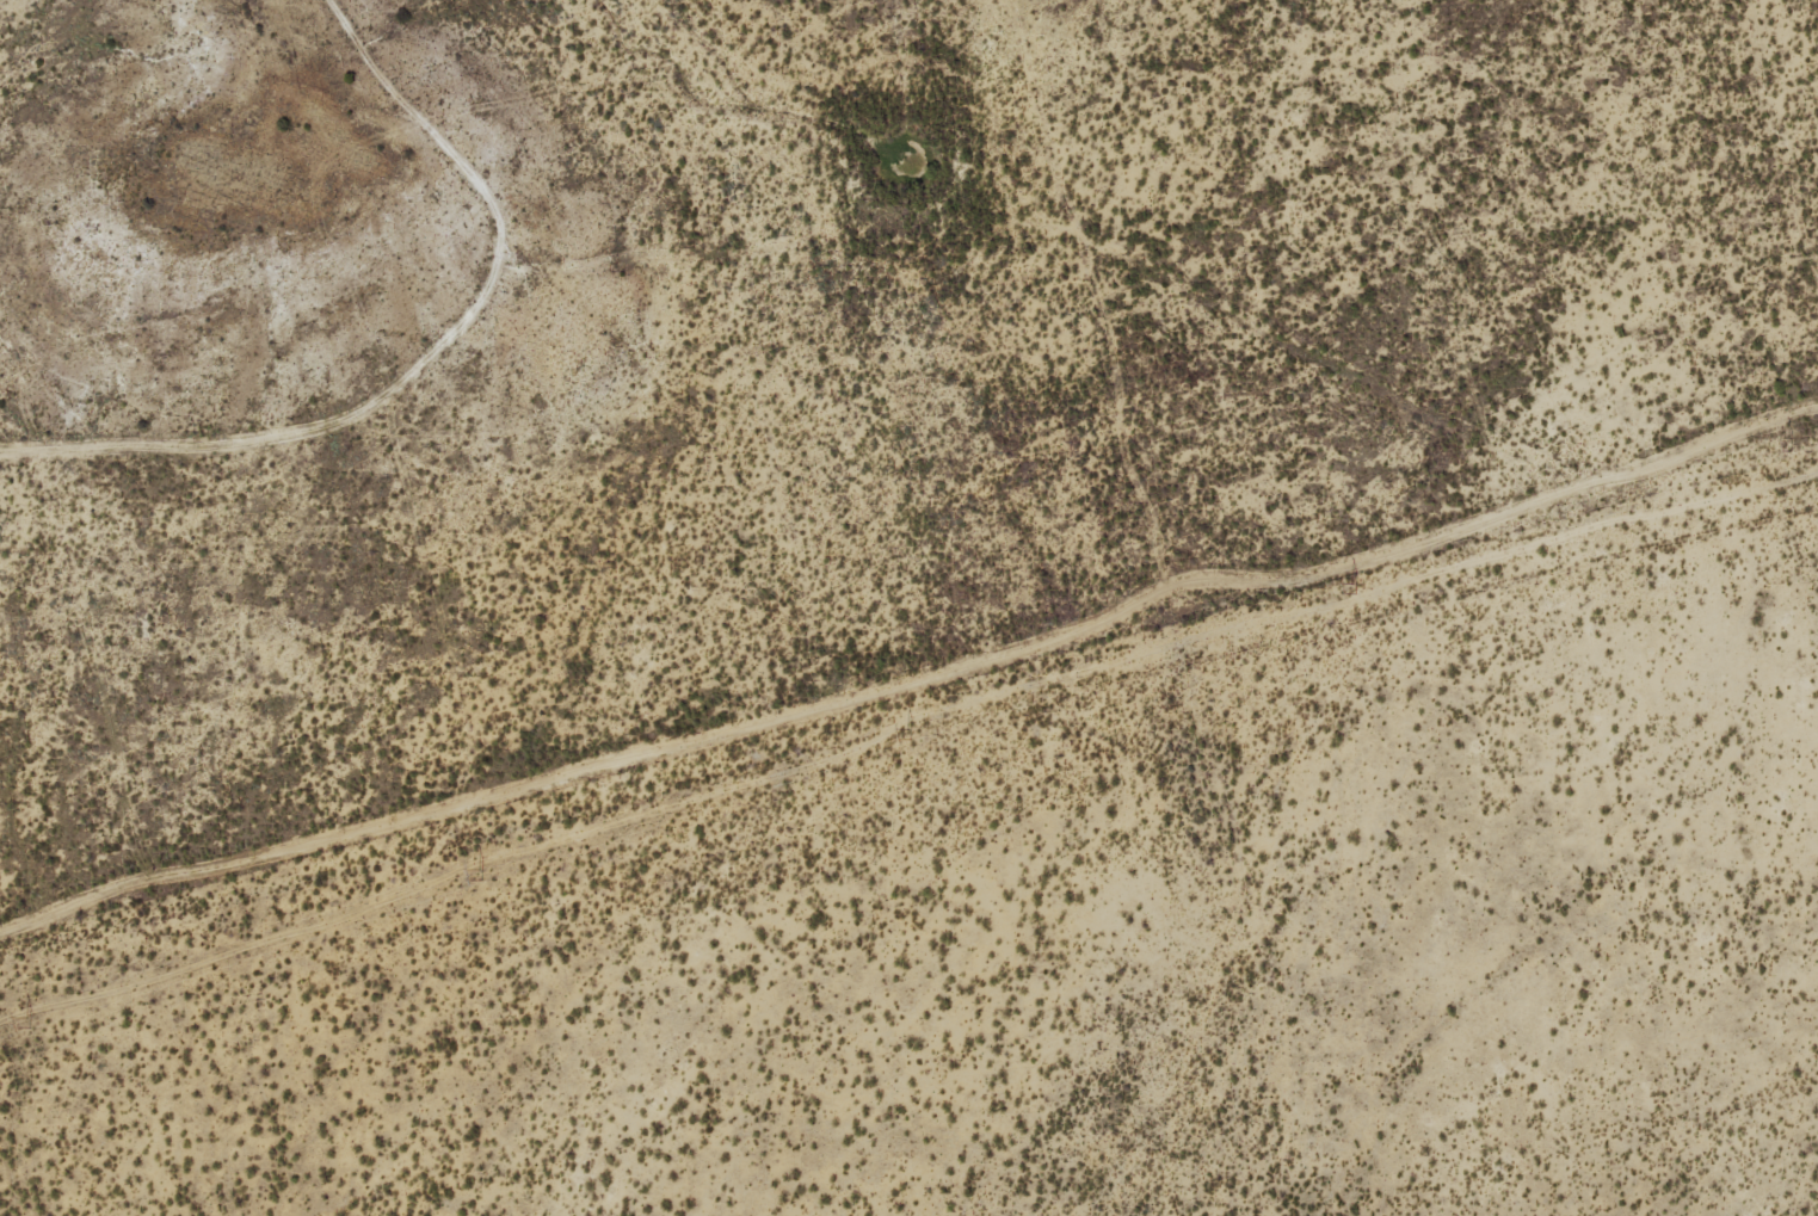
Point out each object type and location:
power tower: (1785, 440)
power tower: (1350, 587)
power tower: (906, 735)
power tower: (477, 874)
power tower: (25, 1021)

